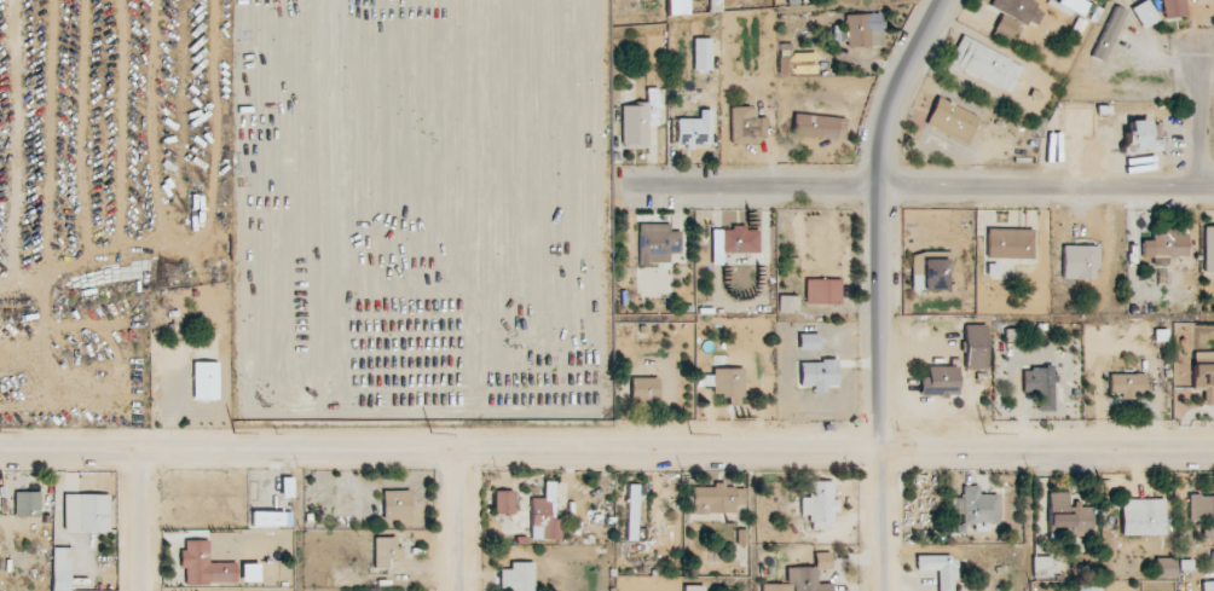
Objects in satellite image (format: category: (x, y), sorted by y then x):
building: (1071, 6)
building: (1170, 8)
building: (1016, 11)
building: (1143, 15)
building: (1004, 27)
building: (861, 30)
building: (1105, 34)
building: (699, 54)
building: (982, 65)
building: (637, 120)
building: (949, 121)
building: (742, 126)
road: (1199, 126)
building: (816, 127)
building: (692, 131)
building: (1139, 137)
road: (907, 190)
building: (733, 242)
building: (654, 244)
building: (1007, 244)
building: (1163, 244)
building: (1207, 249)
building: (1076, 262)
building: (927, 271)
road: (879, 289)
building: (820, 292)
building: (785, 305)
building: (972, 347)
building: (815, 373)
building: (1202, 376)
building: (203, 381)
building: (937, 382)
building: (723, 383)
building: (1035, 383)
building: (1125, 386)
building: (642, 390)
road: (606, 451)
building: (713, 500)
building: (501, 503)
building: (25, 505)
building: (394, 505)
building: (817, 505)
building: (975, 509)
building: (83, 514)
building: (630, 514)
building: (1065, 515)
building: (1202, 515)
building: (542, 516)
building: (1140, 517)
road: (138, 521)
road: (457, 521)
building: (383, 551)
building: (202, 566)
building: (1039, 568)
building: (1163, 568)
building: (59, 569)
building: (937, 569)
building: (807, 575)
building: (515, 578)
building: (1207, 586)
building: (1092, 587)
building: (690, 589)

